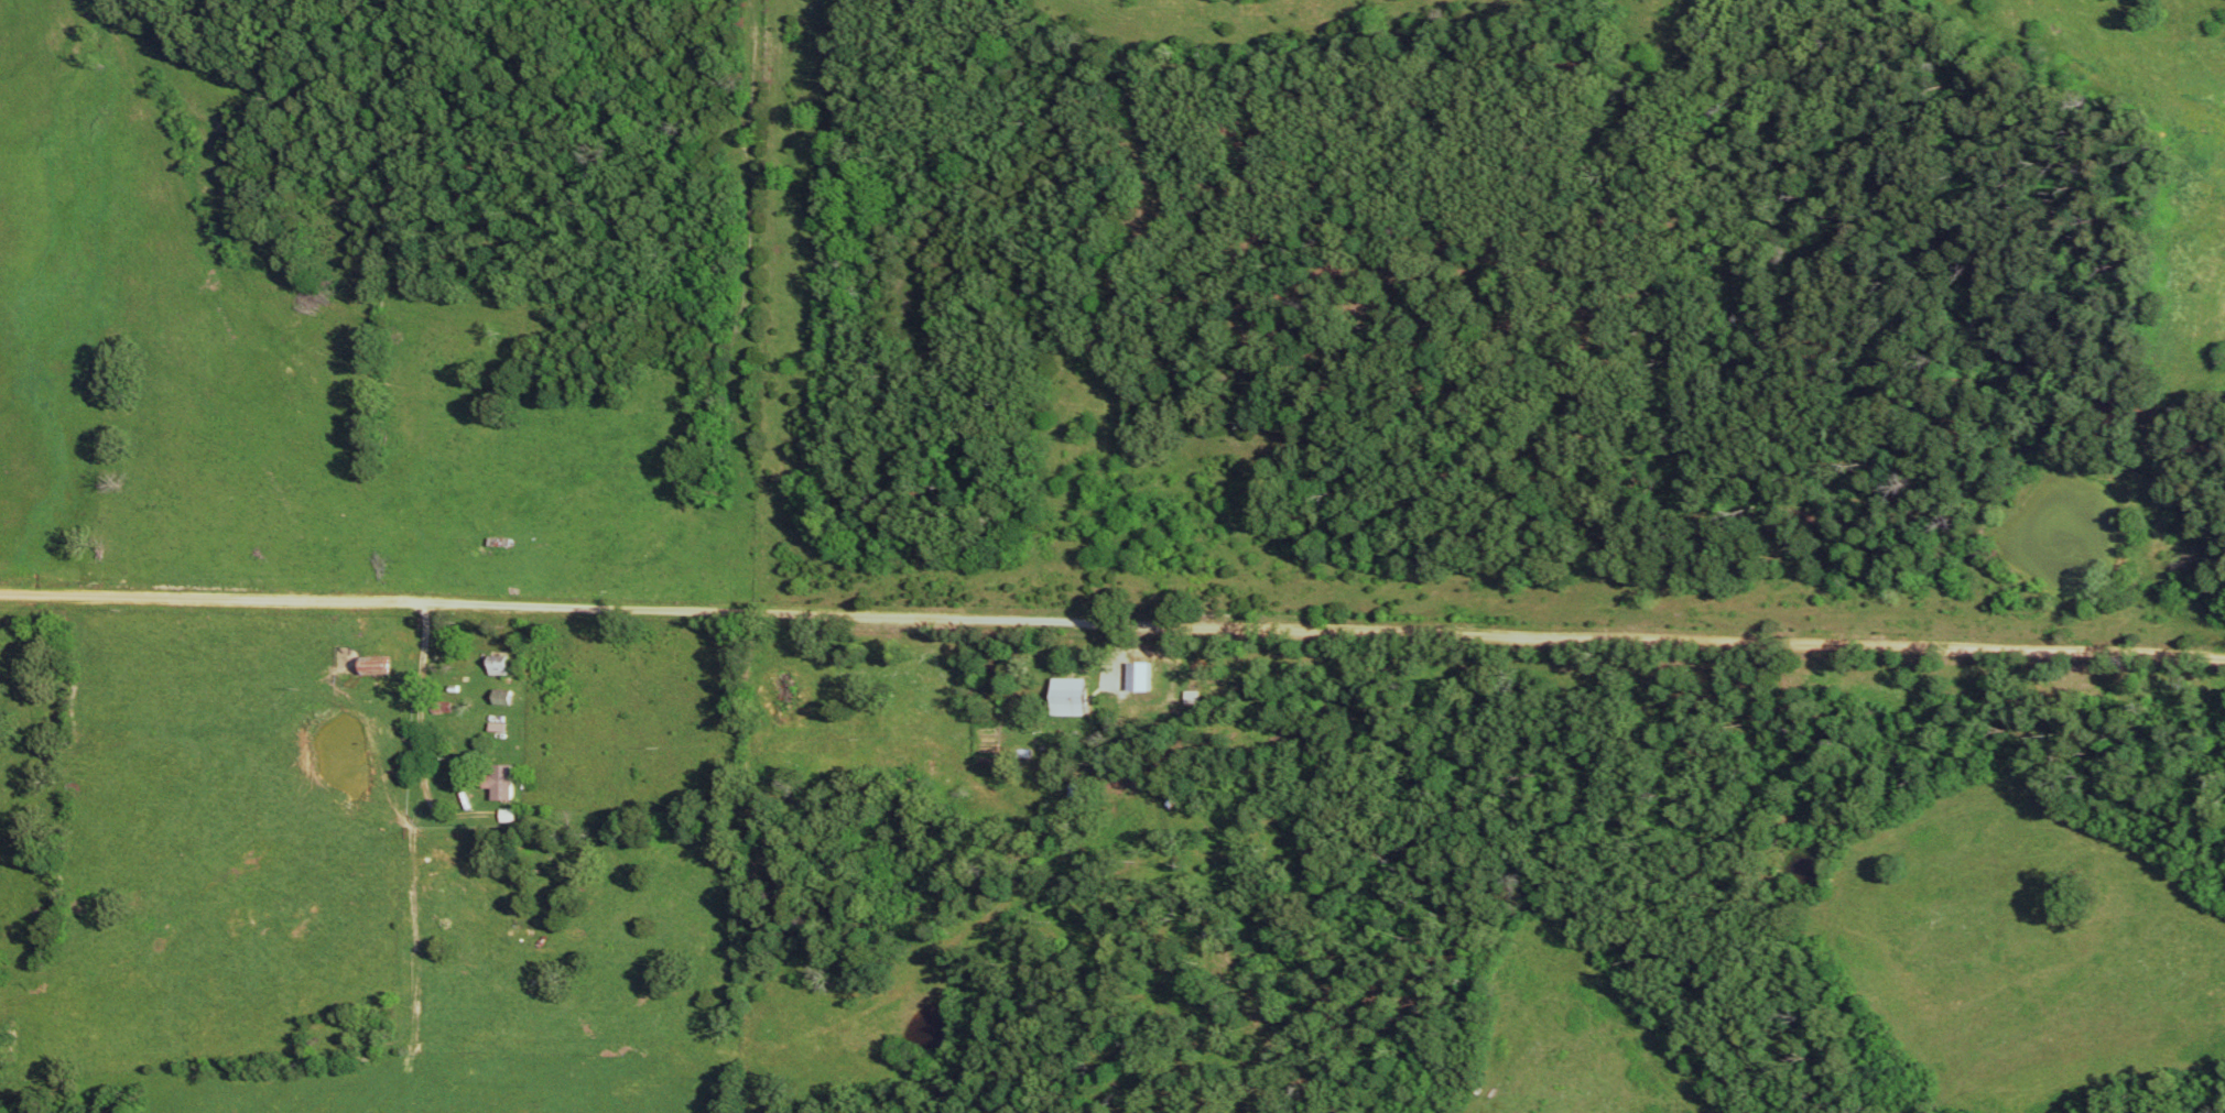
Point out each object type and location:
building: (497, 547)
road: (1111, 637)
building: (497, 668)
building: (371, 670)
building: (1068, 701)
building: (498, 787)

